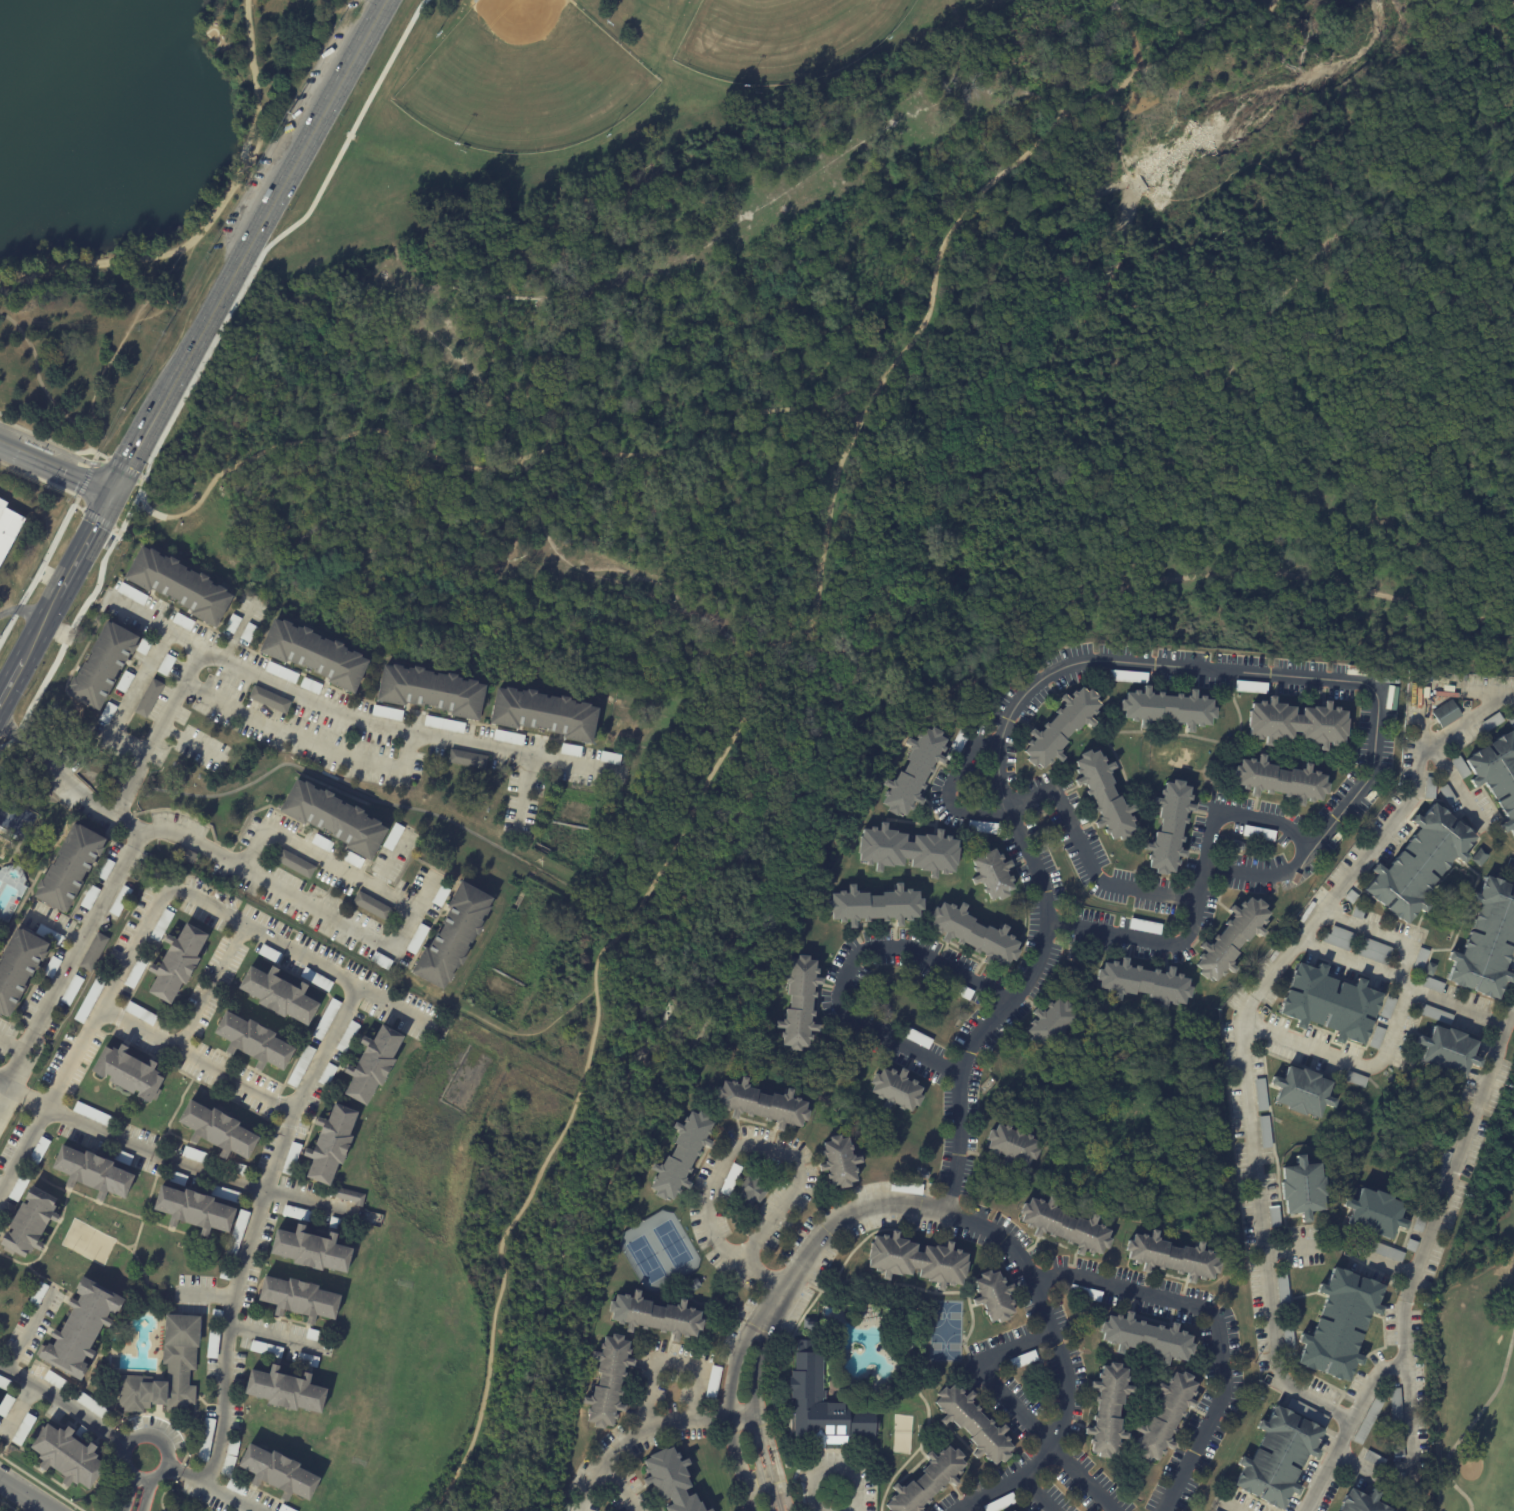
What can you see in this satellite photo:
building: (473, 0)
road: (220, 31)
park: (783, 37)
road: (215, 38)
road: (237, 55)
park: (266, 58)
park: (523, 78)
road: (1375, 105)
road: (257, 144)
road: (1016, 160)
road: (268, 214)
road: (211, 217)
road: (281, 238)
park: (107, 318)
park: (868, 385)
road: (43, 386)
road: (870, 402)
road: (46, 439)
road: (43, 443)
road: (103, 458)
road: (134, 459)
road: (96, 462)
road: (90, 464)
road: (59, 465)
road: (118, 466)
road: (136, 477)
road: (82, 486)
traffic signals: (118, 491)
road: (96, 519)
road: (1120, 525)
building: (8, 529)
road: (40, 571)
road: (1279, 573)
road: (92, 575)
building: (179, 584)
road: (484, 590)
building: (132, 593)
road: (58, 598)
road: (24, 612)
road: (811, 615)
building: (183, 622)
building: (232, 623)
road: (73, 626)
road: (239, 629)
building: (248, 632)
building: (143, 646)
building: (313, 654)
road: (843, 655)
road: (39, 658)
building: (166, 664)
road: (1070, 664)
building: (102, 665)
building: (281, 672)
building: (1127, 676)
road: (137, 680)
building: (124, 681)
building: (310, 685)
building: (1250, 686)
building: (431, 690)
building: (149, 698)
building: (269, 699)
road: (955, 706)
building: (1167, 709)
building: (107, 712)
building: (387, 713)
building: (543, 713)
building: (1446, 714)
road: (350, 716)
building: (1511, 720)
road: (1462, 722)
building: (1492, 722)
building: (443, 724)
building: (1296, 724)
building: (1061, 727)
building: (508, 736)
road: (21, 739)
road: (310, 739)
road: (151, 741)
road: (191, 742)
road: (128, 744)
building: (956, 745)
building: (571, 749)
building: (464, 758)
building: (610, 758)
building: (1459, 767)
road: (53, 770)
building: (914, 772)
building: (1497, 775)
building: (1279, 781)
road: (1457, 786)
road: (523, 788)
building: (1430, 788)
road: (1055, 789)
building: (1447, 794)
building: (1102, 795)
road: (91, 803)
building: (1079, 812)
road: (1240, 814)
park: (18, 818)
building: (333, 818)
building: (982, 827)
building: (1169, 828)
building: (1257, 832)
road: (177, 833)
building: (392, 836)
building: (321, 842)
park: (3, 845)
building: (1237, 846)
building: (906, 851)
building: (186, 854)
building: (1479, 857)
road: (322, 859)
road: (395, 859)
building: (352, 860)
building: (294, 863)
building: (1418, 864)
building: (69, 867)
building: (105, 869)
building: (991, 874)
building: (440, 895)
building: (90, 897)
building: (1350, 897)
building: (119, 901)
building: (371, 905)
building: (875, 906)
road: (152, 912)
building: (1358, 914)
building: (161, 925)
building: (1144, 925)
building: (49, 934)
building: (974, 934)
road: (1383, 934)
building: (452, 935)
building: (416, 939)
building: (1339, 939)
building: (1230, 940)
road: (1154, 942)
building: (1486, 942)
building: (92, 951)
building: (1374, 951)
building: (268, 953)
building: (380, 960)
building: (1420, 960)
building: (176, 963)
building: (1512, 964)
building: (51, 966)
road: (850, 967)
building: (19, 968)
building: (1429, 970)
building: (135, 971)
building: (315, 978)
road: (1403, 981)
road: (210, 983)
building: (1143, 983)
building: (1432, 985)
building: (959, 989)
building: (71, 990)
building: (277, 994)
building: (90, 996)
road: (1249, 1001)
building: (797, 1004)
building: (1329, 1004)
building: (1388, 1008)
building: (140, 1013)
building: (1435, 1014)
building: (325, 1019)
building: (1050, 1024)
road: (498, 1026)
building: (347, 1036)
building: (914, 1036)
building: (1377, 1038)
building: (253, 1041)
road: (12, 1045)
road: (144, 1049)
building: (1448, 1052)
road: (198, 1057)
road: (1347, 1060)
building: (372, 1064)
building: (301, 1065)
building: (128, 1072)
building: (327, 1074)
building: (1355, 1080)
road: (4, 1082)
road: (204, 1084)
road: (16, 1088)
building: (896, 1090)
road: (4, 1092)
building: (1302, 1093)
building: (1260, 1094)
road: (34, 1099)
building: (761, 1104)
road: (273, 1110)
building: (93, 1115)
road: (279, 1123)
building: (1264, 1130)
road: (167, 1132)
building: (219, 1132)
building: (329, 1144)
building: (1009, 1146)
road: (730, 1147)
building: (37, 1152)
building: (678, 1155)
building: (120, 1156)
building: (200, 1157)
building: (290, 1158)
building: (839, 1161)
road: (156, 1164)
road: (194, 1166)
building: (1441, 1170)
building: (243, 1171)
building: (92, 1172)
building: (923, 1174)
building: (175, 1177)
building: (730, 1179)
building: (19, 1185)
building: (905, 1187)
building: (1302, 1189)
building: (750, 1190)
building: (225, 1193)
road: (149, 1196)
building: (349, 1196)
building: (193, 1210)
road: (128, 1211)
building: (298, 1212)
building: (1374, 1215)
building: (1273, 1216)
building: (1421, 1221)
building: (29, 1223)
building: (339, 1224)
building: (239, 1225)
building: (1063, 1226)
road: (252, 1227)
road: (987, 1227)
road: (137, 1234)
road: (45, 1241)
park: (88, 1241)
road: (130, 1243)
park: (671, 1243)
building: (1411, 1245)
road: (1295, 1247)
building: (1379, 1248)
building: (310, 1249)
road: (1422, 1251)
building: (231, 1253)
building: (1172, 1256)
park: (646, 1259)
building: (915, 1261)
road: (1384, 1263)
road: (144, 1271)
building: (224, 1273)
road: (52, 1282)
building: (693, 1283)
building: (1085, 1292)
building: (1282, 1292)
road: (205, 1294)
building: (37, 1295)
building: (993, 1296)
building: (298, 1298)
building: (216, 1315)
building: (653, 1316)
building: (1340, 1323)
building: (807, 1324)
building: (80, 1327)
road: (1217, 1327)
road: (32, 1330)
park: (945, 1330)
building: (314, 1335)
building: (1287, 1336)
building: (1145, 1338)
road: (280, 1339)
building: (212, 1342)
building: (265, 1348)
park: (1480, 1354)
building: (178, 1355)
building: (1022, 1359)
building: (306, 1360)
road: (670, 1361)
building: (608, 1380)
building: (56, 1381)
building: (713, 1381)
building: (3, 1383)
building: (285, 1390)
road: (65, 1402)
building: (5, 1405)
building: (820, 1405)
building: (92, 1406)
road: (17, 1409)
building: (1107, 1409)
building: (1396, 1409)
road: (1020, 1410)
building: (1307, 1412)
road: (730, 1413)
building: (1164, 1416)
road: (757, 1419)
building: (1369, 1419)
road: (673, 1421)
road: (1471, 1423)
building: (973, 1424)
road: (1347, 1428)
building: (23, 1429)
park: (901, 1433)
road: (140, 1436)
building: (206, 1439)
road: (5, 1444)
building: (232, 1446)
building: (1398, 1446)
building: (67, 1456)
building: (1278, 1458)
building: (1374, 1459)
road: (1354, 1463)
building: (227, 1466)
road: (833, 1467)
building: (277, 1472)
road: (186, 1476)
building: (1399, 1478)
building: (670, 1480)
building: (927, 1481)
road: (1010, 1482)
road: (41, 1484)
road: (588, 1485)
building: (234, 1487)
road: (620, 1487)
road: (165, 1490)
road: (128, 1492)
road: (146, 1494)
road: (21, 1496)
road: (233, 1499)
building: (1361, 1502)
road: (7, 1505)
road: (1228, 1506)
building: (285, 1508)
building: (708, 1510)
building: (1014, 1510)
building: (1216, 1510)

